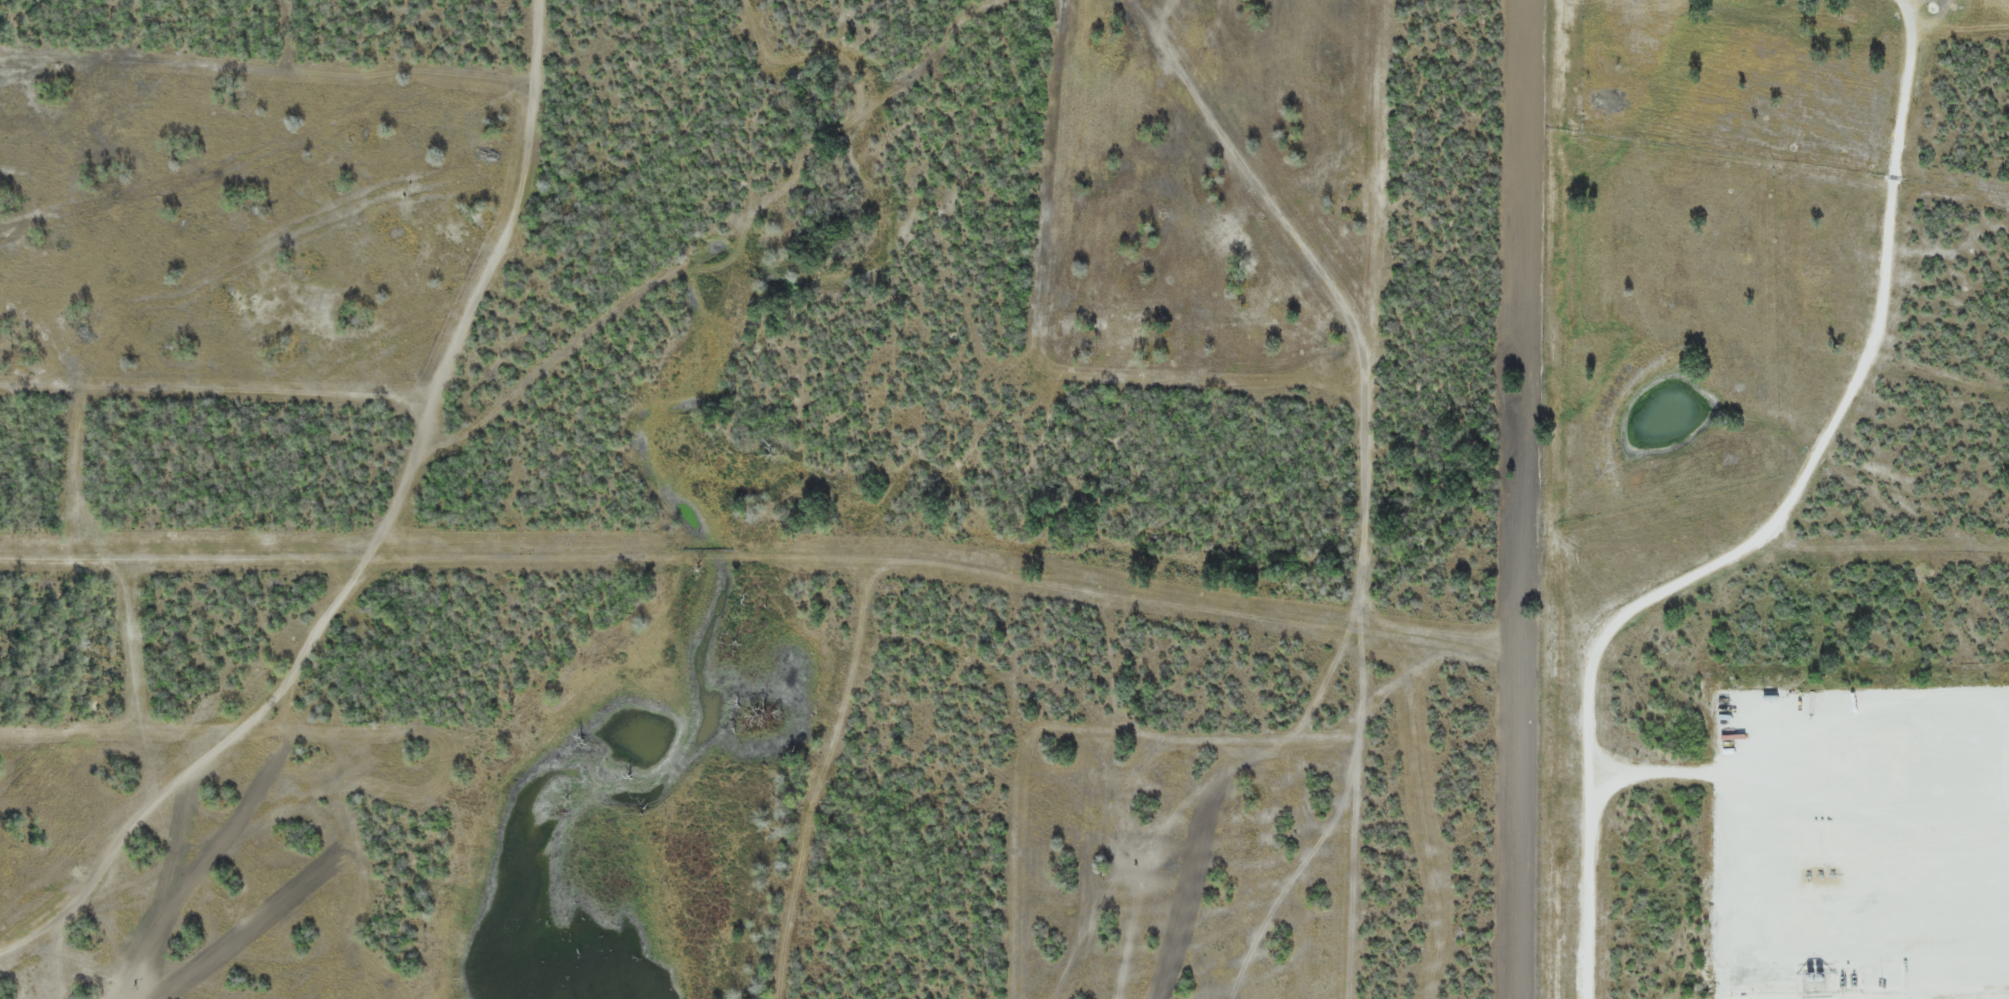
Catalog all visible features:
road: (1765, 531)
road: (1719, 772)

